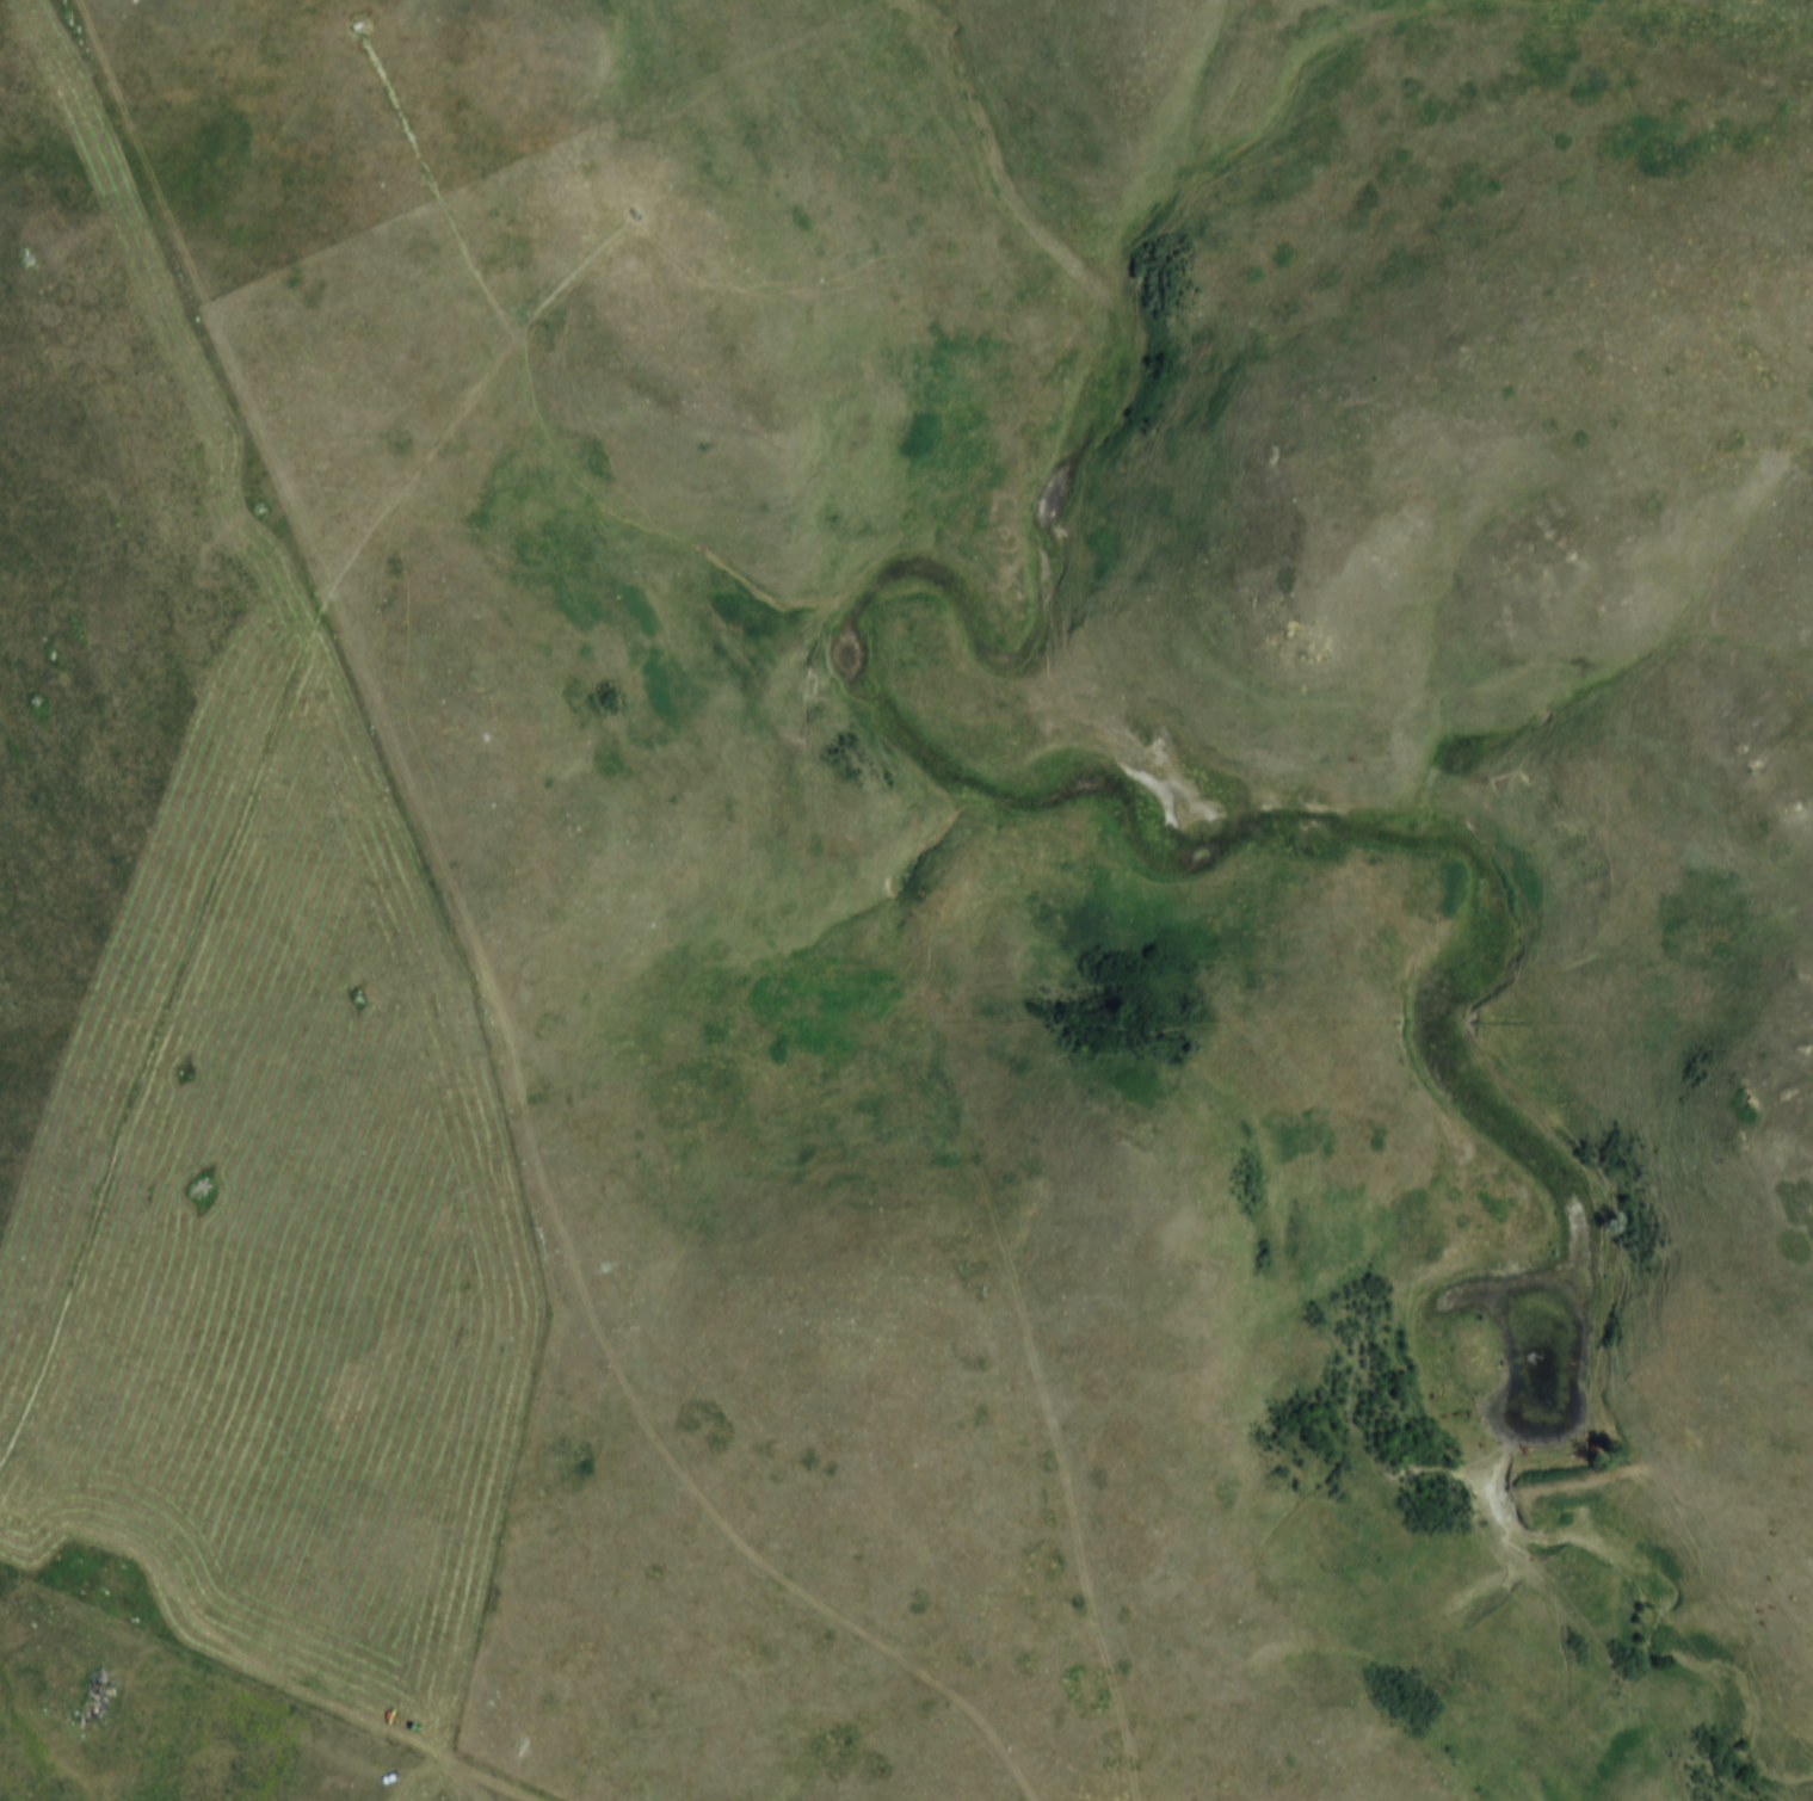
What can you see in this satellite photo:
road: (261, 1664)

